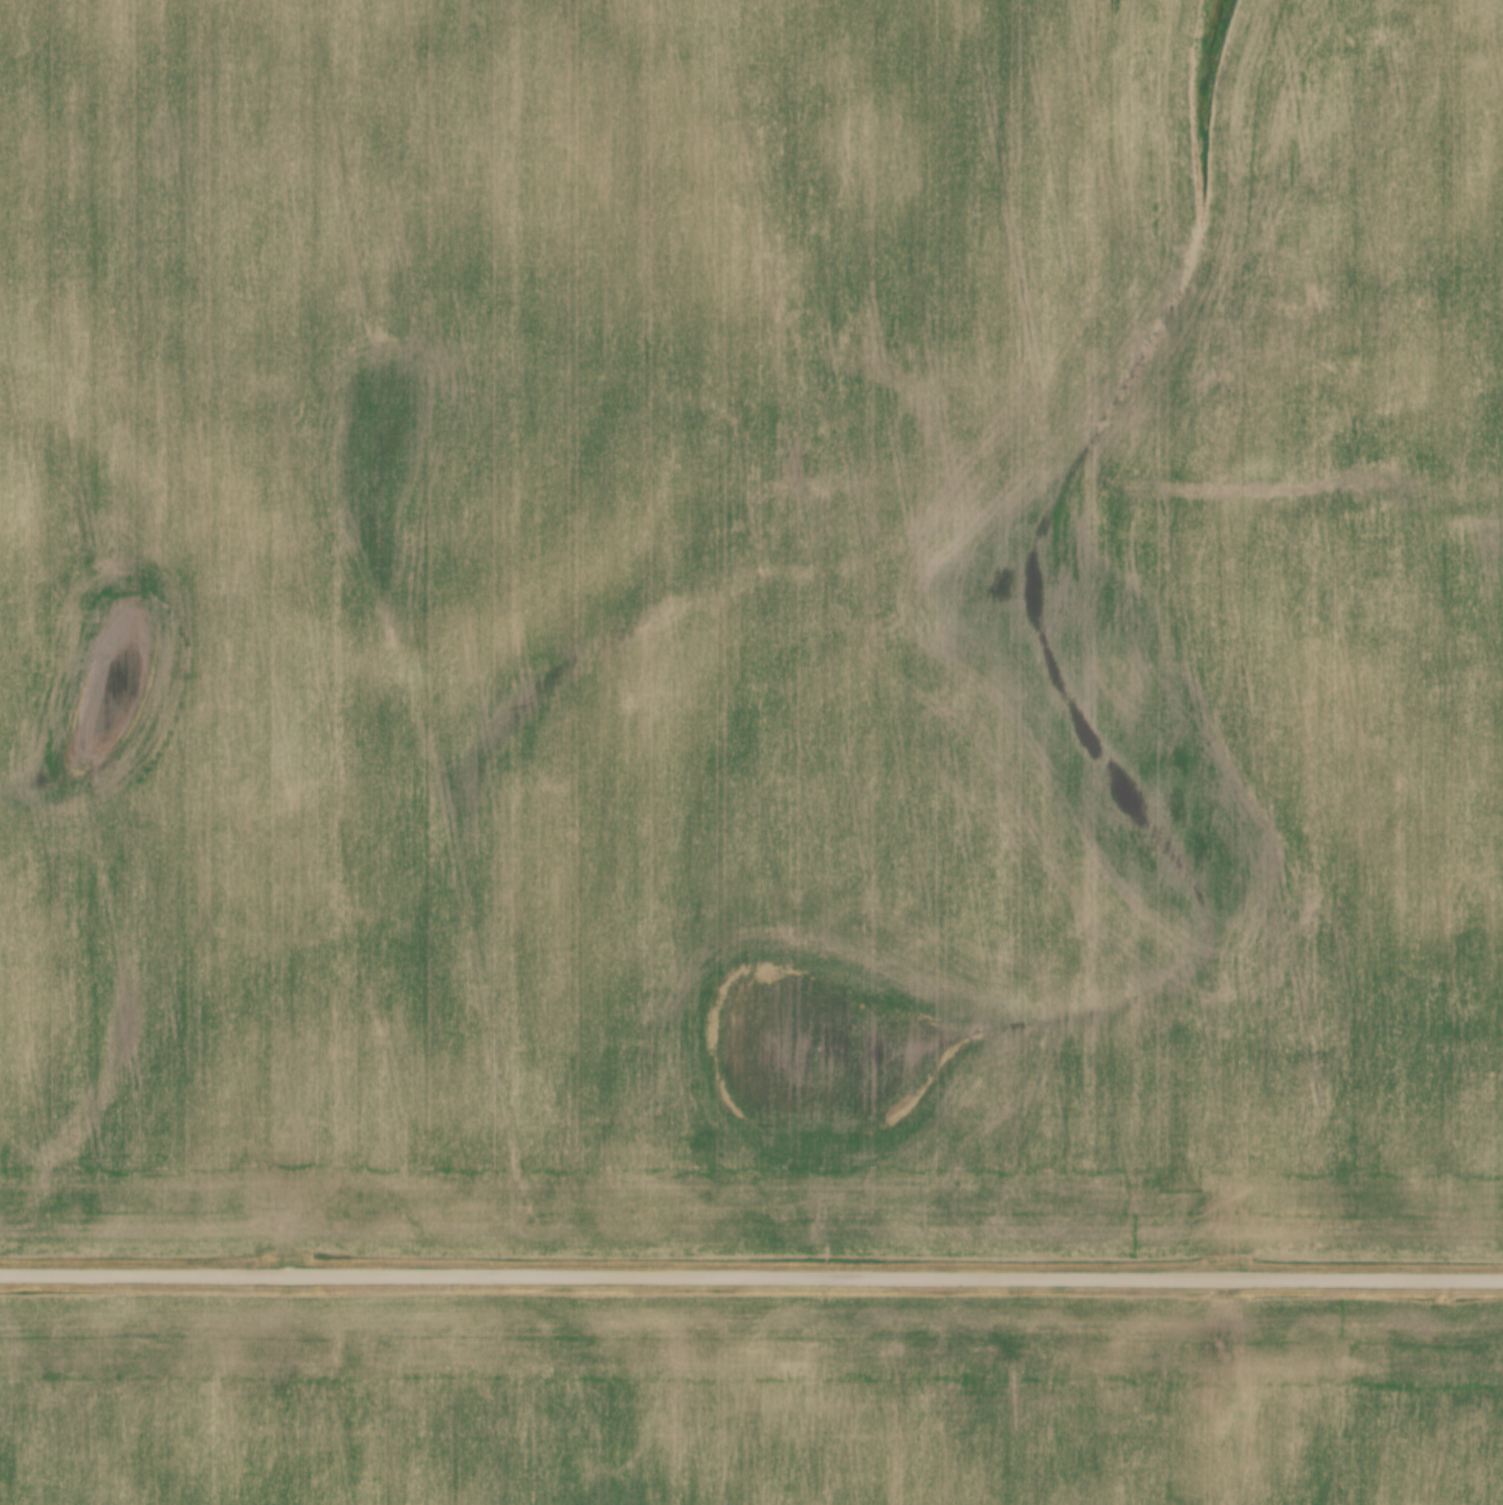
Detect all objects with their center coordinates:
road: (751, 1279)

